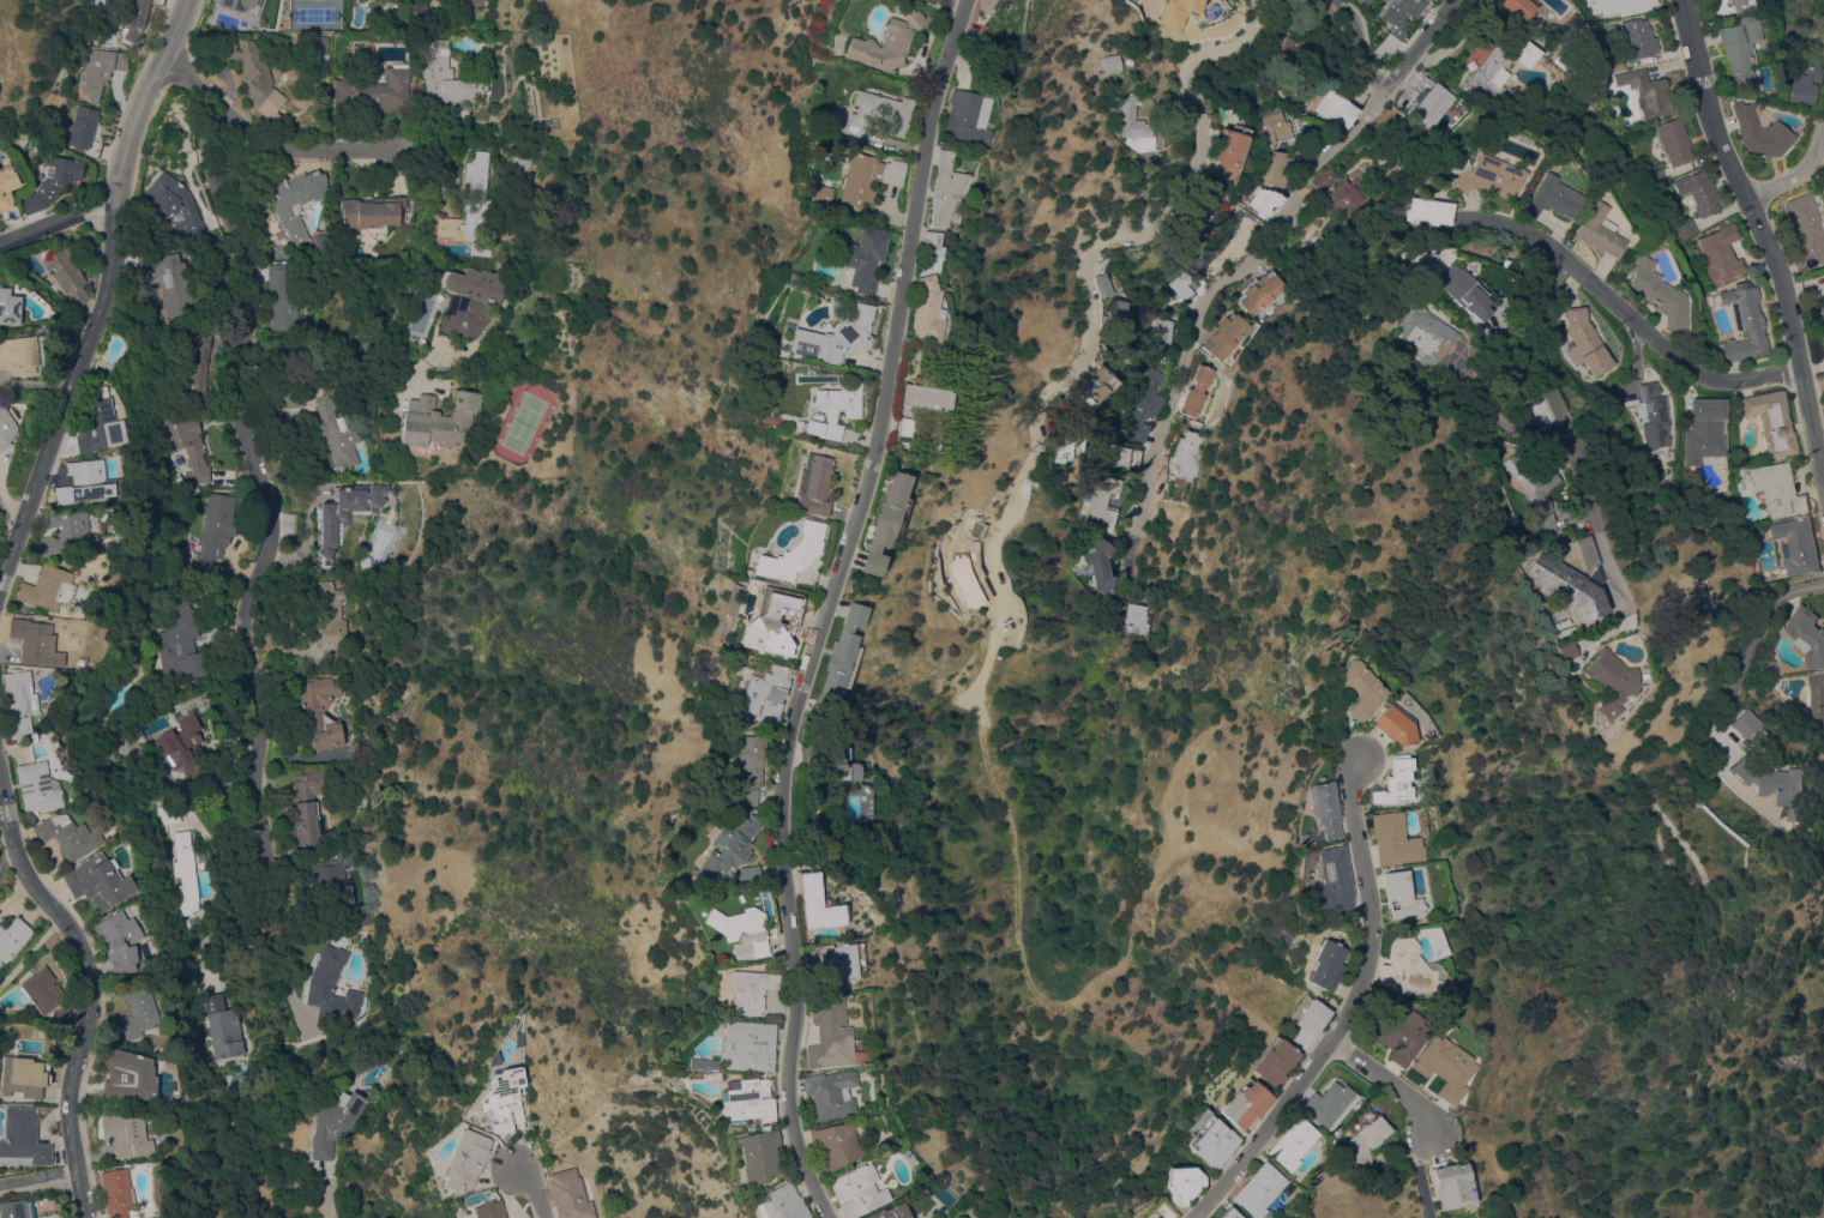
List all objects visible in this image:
building: (477, 2)
building: (237, 4)
building: (987, 5)
building: (1620, 6)
building: (1732, 6)
building: (311, 7)
building: (1519, 7)
building: (419, 8)
building: (1176, 12)
building: (1402, 14)
building: (137, 17)
building: (1575, 22)
building: (1603, 31)
building: (1793, 31)
building: (1638, 37)
building: (317, 40)
building: (887, 42)
building: (1385, 44)
building: (1278, 46)
building: (1740, 47)
road: (1358, 56)
building: (1500, 61)
building: (1611, 61)
building: (1557, 62)
building: (1113, 64)
building: (101, 71)
building: (252, 73)
building: (450, 76)
building: (1805, 77)
building: (1417, 88)
building: (377, 90)
building: (1647, 91)
building: (1431, 103)
building: (1335, 108)
building: (839, 110)
building: (878, 113)
building: (968, 115)
building: (1130, 122)
building: (83, 126)
building: (1760, 132)
road: (263, 137)
building: (1674, 140)
building: (1268, 146)
building: (1228, 151)
building: (519, 167)
road: (1804, 171)
building: (868, 176)
building: (1487, 176)
building: (1656, 176)
building: (1326, 177)
building: (52, 182)
building: (6, 187)
building: (945, 187)
building: (1823, 189)
building: (1698, 191)
building: (821, 192)
building: (295, 197)
building: (1344, 197)
building: (1551, 198)
building: (1265, 199)
building: (177, 207)
building: (472, 207)
building: (1428, 211)
building: (371, 212)
road: (56, 222)
building: (1194, 223)
building: (1686, 229)
building: (1599, 231)
building: (1806, 231)
road: (1760, 236)
building: (933, 242)
road: (1269, 251)
building: (1718, 253)
building: (865, 258)
building: (530, 265)
building: (66, 276)
building: (171, 282)
building: (1102, 284)
building: (1186, 285)
building: (1262, 291)
building: (1657, 291)
building: (1464, 294)
road: (104, 297)
building: (283, 297)
building: (471, 300)
building: (1710, 300)
building: (10, 307)
building: (927, 310)
building: (1116, 312)
building: (1820, 312)
building: (50, 313)
road: (1632, 319)
road: (1092, 324)
building: (1745, 324)
building: (1161, 334)
building: (1226, 334)
building: (1421, 336)
building: (1822, 336)
building: (838, 337)
building: (1585, 340)
building: (19, 355)
building: (197, 370)
road: (336, 375)
building: (1094, 386)
building: (1198, 390)
building: (1627, 394)
building: (293, 397)
building: (925, 397)
building: (1145, 405)
building: (832, 409)
building: (1654, 416)
building: (439, 418)
building: (98, 422)
building: (1772, 422)
road: (1557, 424)
building: (6, 426)
building: (903, 426)
building: (1704, 430)
building: (337, 432)
building: (186, 441)
building: (901, 444)
building: (1065, 446)
building: (1122, 457)
building: (1184, 458)
building: (1740, 477)
building: (85, 482)
building: (1534, 483)
building: (813, 484)
building: (1777, 489)
road: (264, 494)
building: (1102, 502)
building: (344, 511)
building: (886, 521)
building: (216, 529)
building: (66, 532)
building: (1798, 545)
building: (790, 553)
building: (1098, 562)
building: (1569, 586)
building: (48, 587)
road: (821, 607)
building: (330, 614)
building: (1134, 619)
building: (772, 622)
building: (1807, 635)
building: (180, 640)
building: (36, 641)
building: (1567, 650)
road: (1748, 652)
building: (841, 655)
building: (79, 662)
building: (1609, 683)
building: (1359, 688)
building: (763, 695)
building: (1817, 699)
building: (19, 701)
building: (320, 712)
building: (1745, 724)
building: (1391, 725)
building: (188, 736)
building: (131, 747)
building: (839, 765)
building: (744, 766)
building: (1392, 783)
building: (1775, 783)
building: (36, 786)
building: (306, 809)
building: (1322, 812)
building: (173, 813)
building: (67, 836)
building: (1392, 839)
building: (723, 845)
building: (185, 872)
building: (740, 873)
building: (332, 880)
building: (98, 881)
building: (1332, 881)
building: (1399, 893)
building: (815, 903)
building: (359, 916)
building: (738, 931)
building: (12, 937)
building: (119, 940)
building: (836, 959)
building: (1325, 965)
building: (1409, 970)
building: (331, 988)
building: (42, 989)
building: (747, 989)
road: (1073, 999)
road: (90, 1002)
road: (1348, 1007)
building: (136, 1013)
building: (60, 1018)
building: (1306, 1020)
building: (222, 1027)
building: (1396, 1030)
building: (830, 1035)
building: (747, 1045)
building: (1274, 1061)
building: (699, 1063)
building: (1444, 1067)
building: (23, 1075)
building: (127, 1075)
building: (709, 1077)
road: (1386, 1080)
building: (831, 1092)
building: (506, 1101)
building: (745, 1101)
building: (1245, 1104)
building: (1329, 1104)
building: (333, 1122)
building: (747, 1127)
building: (23, 1135)
building: (126, 1135)
building: (1366, 1135)
building: (1210, 1139)
building: (1293, 1142)
building: (836, 1145)
building: (758, 1153)
building: (466, 1159)
road: (1421, 1174)
building: (1182, 1182)
road: (40, 1186)
building: (1452, 1186)
building: (859, 1189)
building: (1258, 1189)
road: (532, 1192)
building: (116, 1193)
building: (572, 1194)
road: (327, 1200)
building: (781, 1204)
building: (13, 1208)
building: (489, 1210)
building: (893, 1212)
building: (1229, 1212)
building: (1150, 1214)

